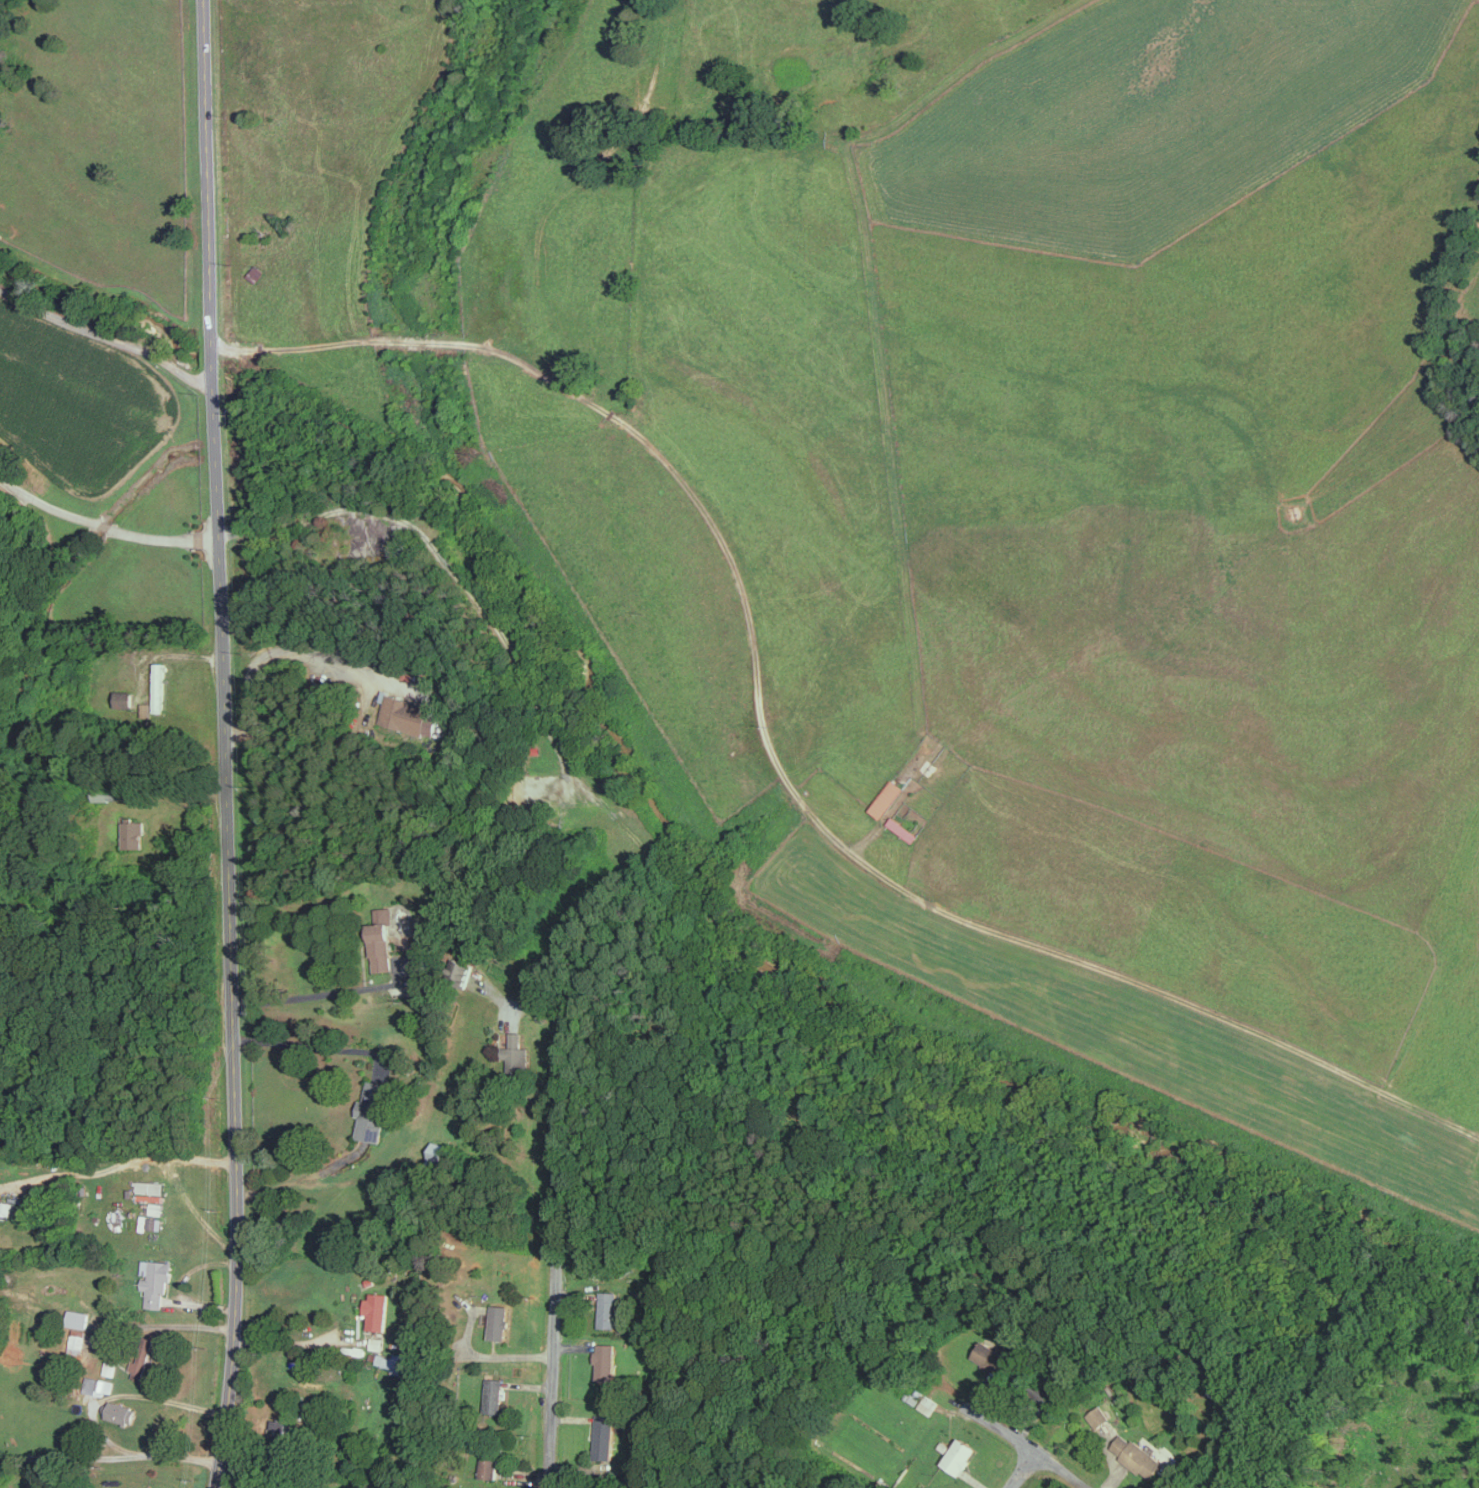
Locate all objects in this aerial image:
building: (254, 273)
road: (651, 447)
road: (217, 503)
road: (104, 527)
road: (294, 648)
building: (159, 686)
building: (408, 714)
building: (112, 793)
building: (888, 798)
building: (133, 834)
building: (381, 941)
building: (460, 971)
building: (421, 974)
road: (321, 993)
road: (526, 1004)
road: (303, 1044)
building: (517, 1059)
building: (373, 1111)
building: (437, 1153)
road: (124, 1161)
building: (150, 1187)
building: (4, 1208)
building: (156, 1208)
building: (155, 1223)
road: (237, 1248)
road: (558, 1253)
building: (156, 1281)
building: (609, 1310)
building: (377, 1311)
building: (78, 1319)
building: (499, 1322)
building: (376, 1343)
building: (76, 1344)
road: (491, 1355)
building: (142, 1357)
building: (992, 1358)
building: (606, 1361)
building: (395, 1362)
building: (109, 1368)
building: (98, 1386)
building: (1220, 1391)
building: (494, 1394)
building: (929, 1404)
road: (92, 1413)
building: (122, 1413)
building: (1099, 1416)
building: (605, 1435)
road: (1028, 1447)
building: (960, 1455)
building: (1137, 1455)
road: (73, 1456)
building: (490, 1465)
road: (1022, 1470)

